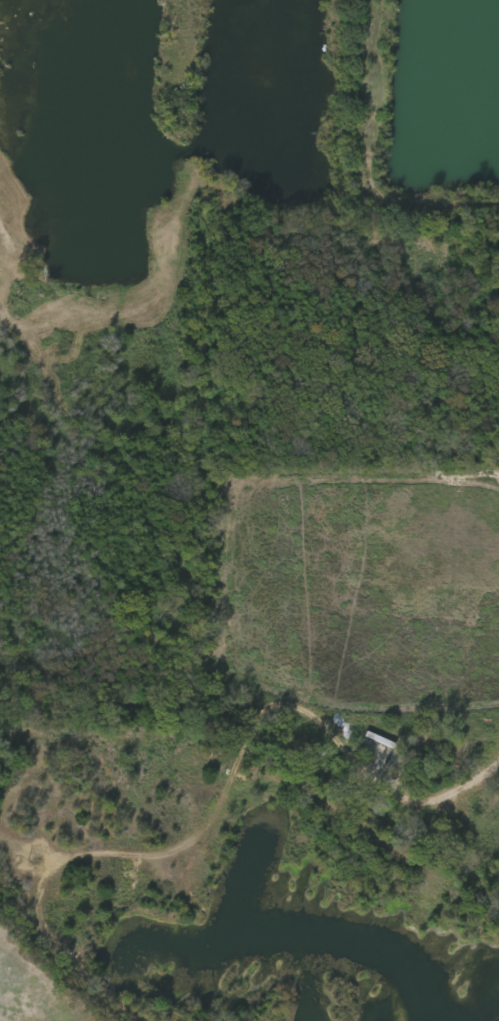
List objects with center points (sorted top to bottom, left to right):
road: (248, 750)

